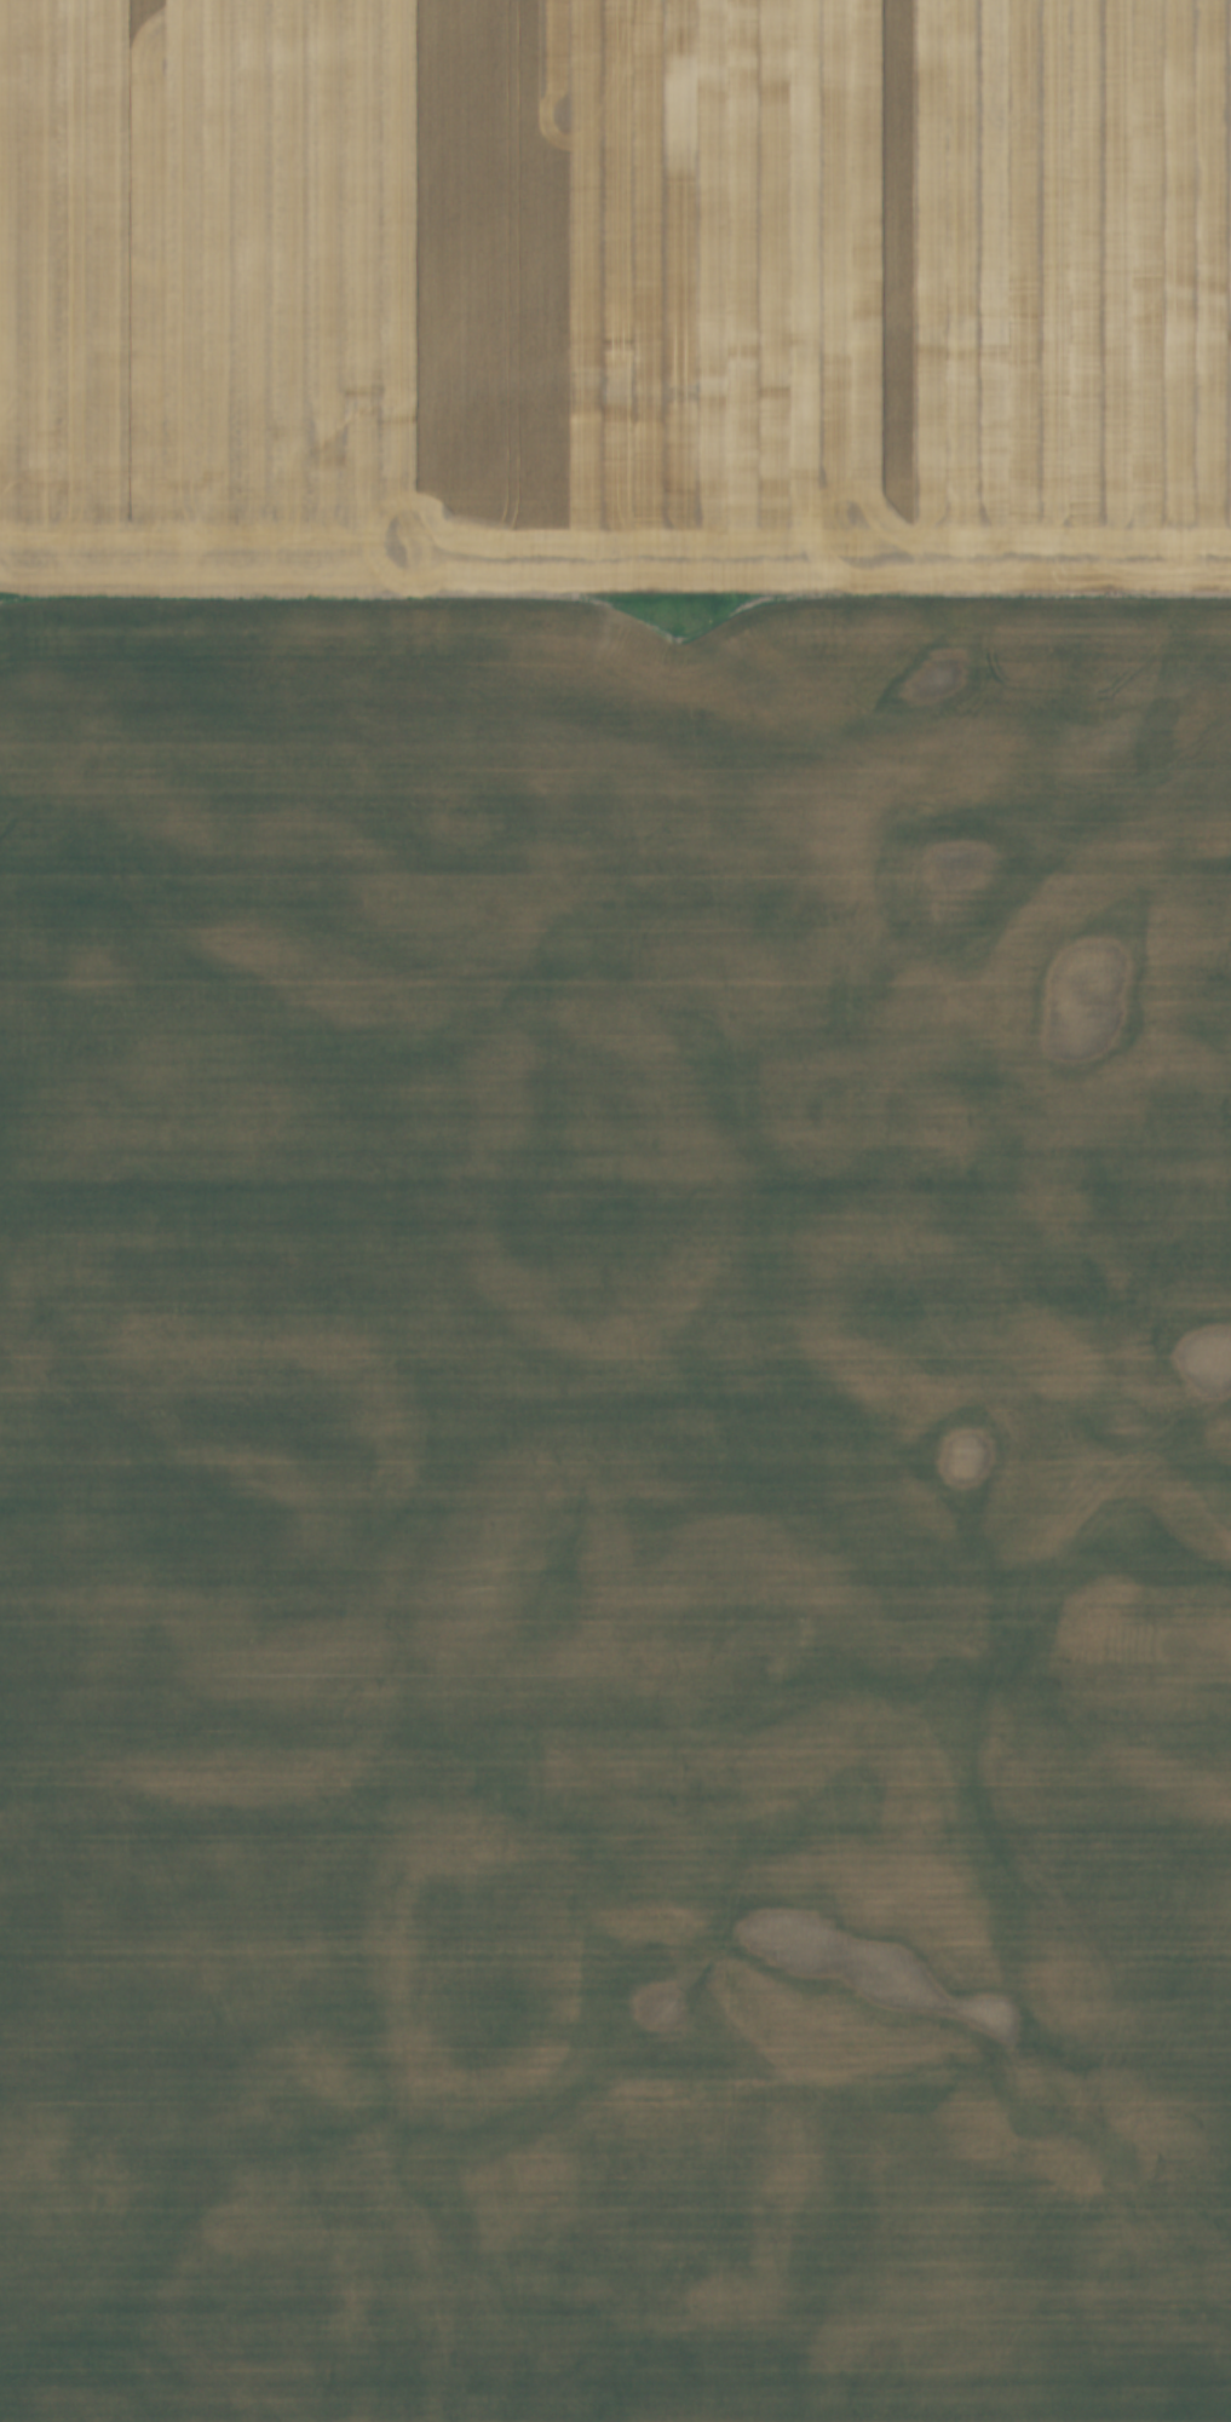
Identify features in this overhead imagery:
road: (615, 597)

